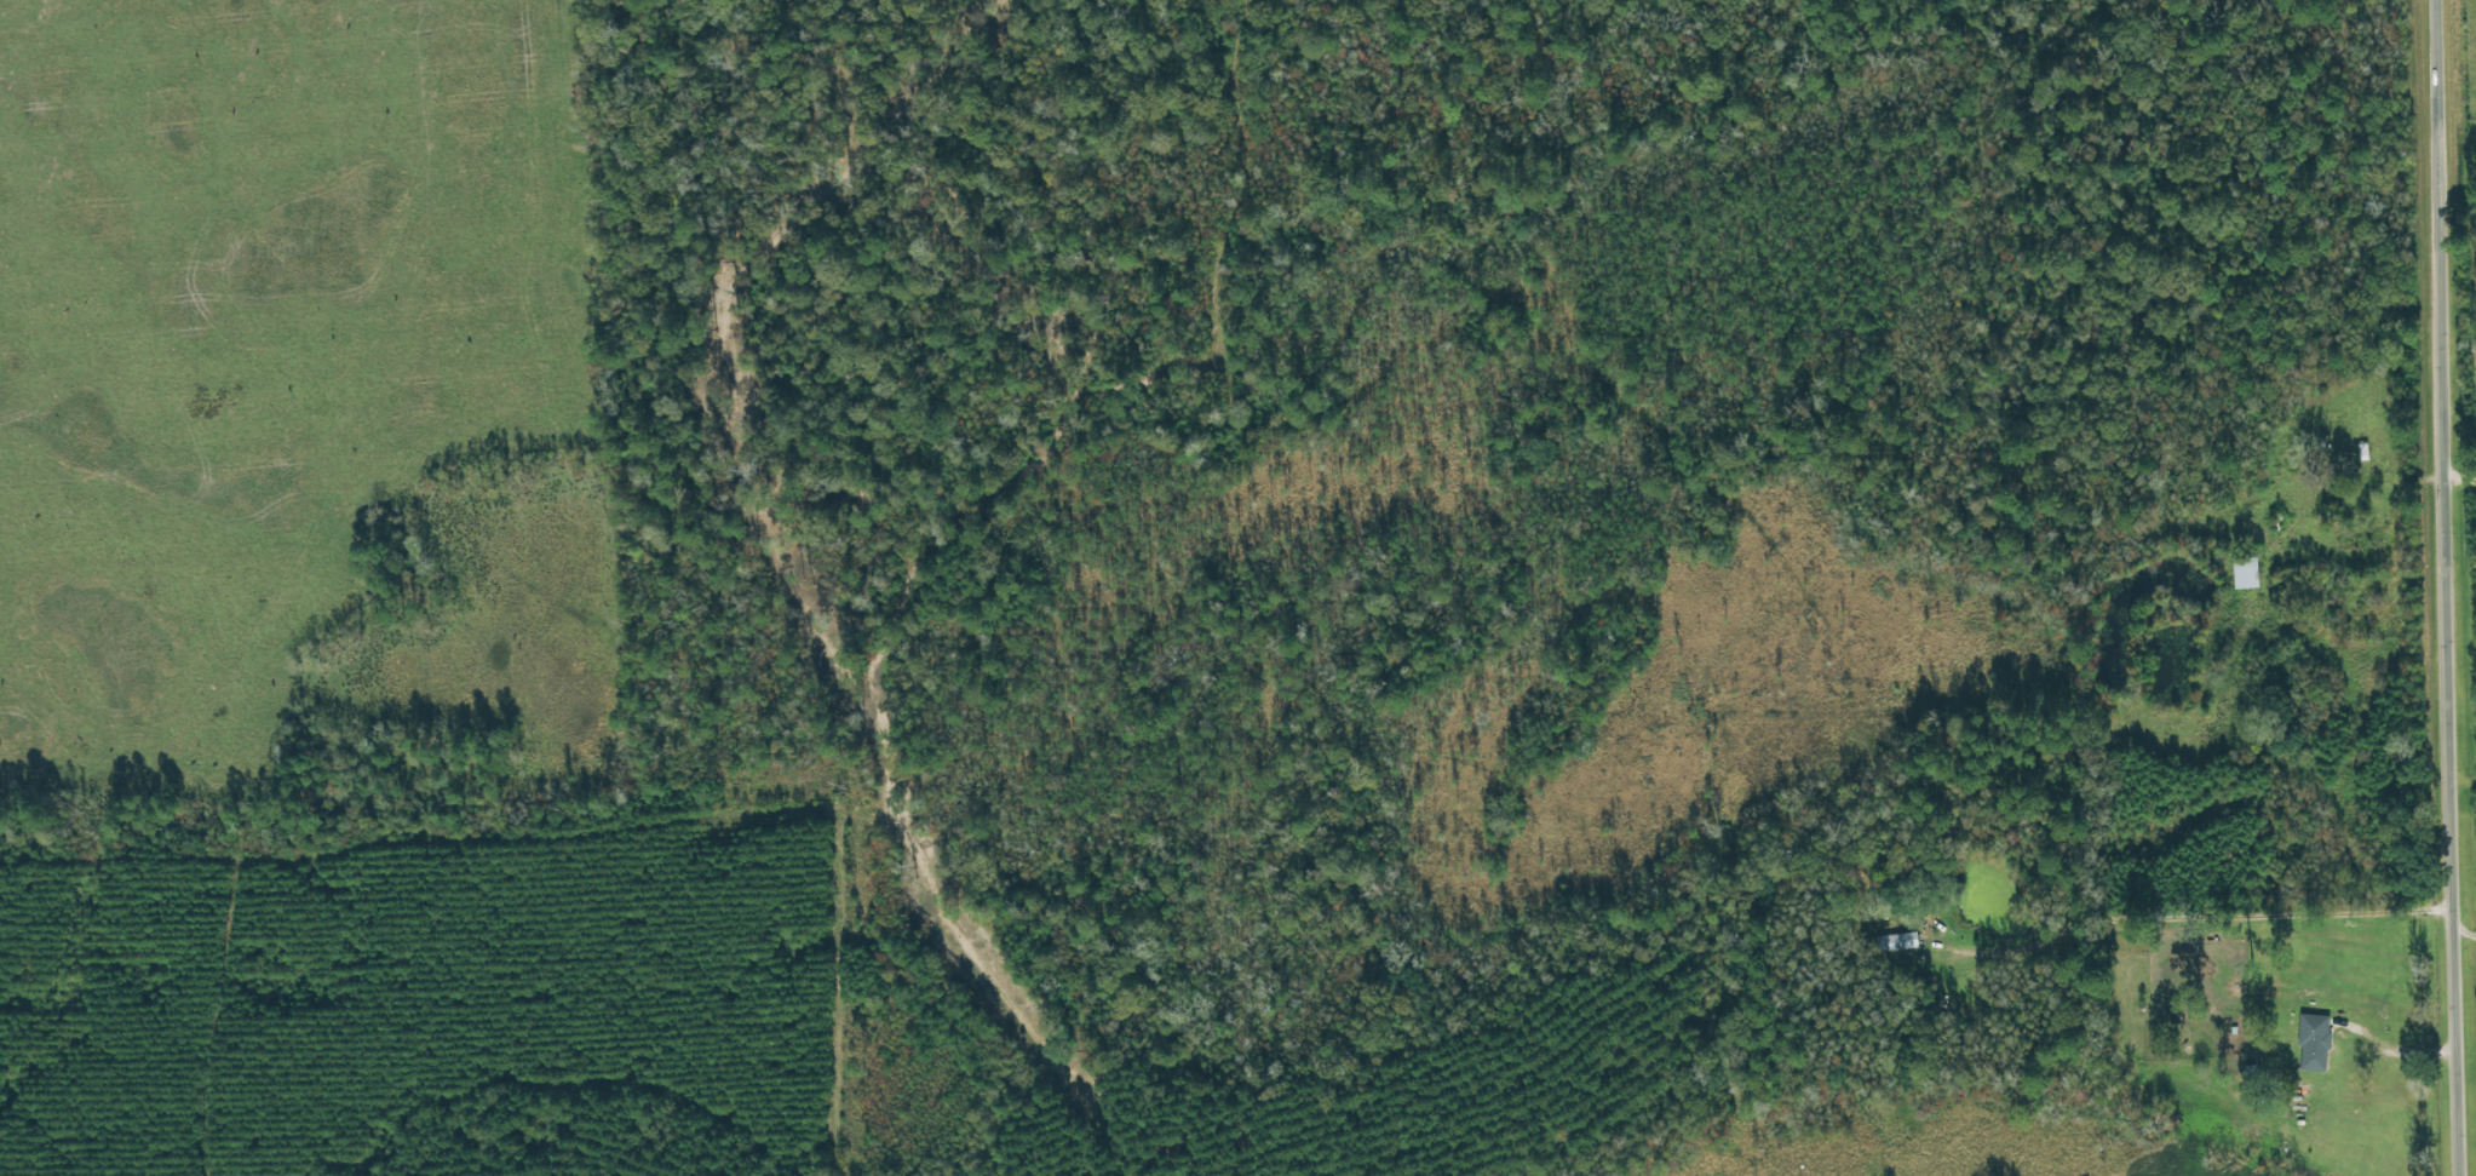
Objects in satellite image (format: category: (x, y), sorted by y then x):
building: (2247, 574)
road: (2437, 587)
road: (2460, 769)
road: (2199, 1014)
road: (2466, 1034)
building: (2315, 1043)

